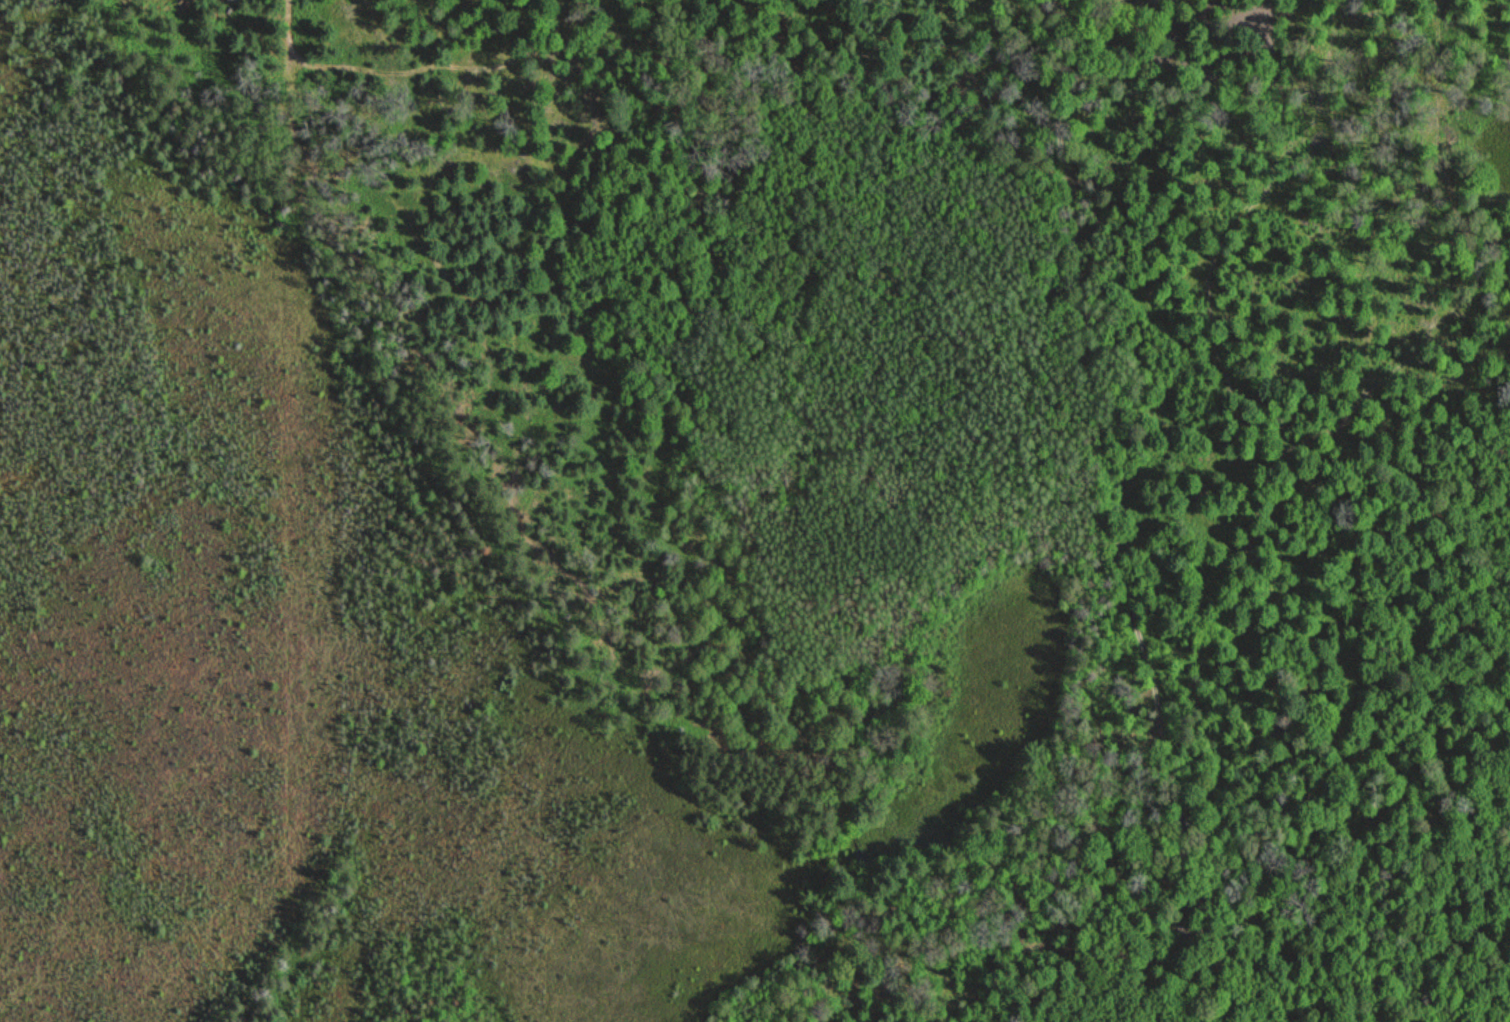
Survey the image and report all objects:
road: (1108, 516)

